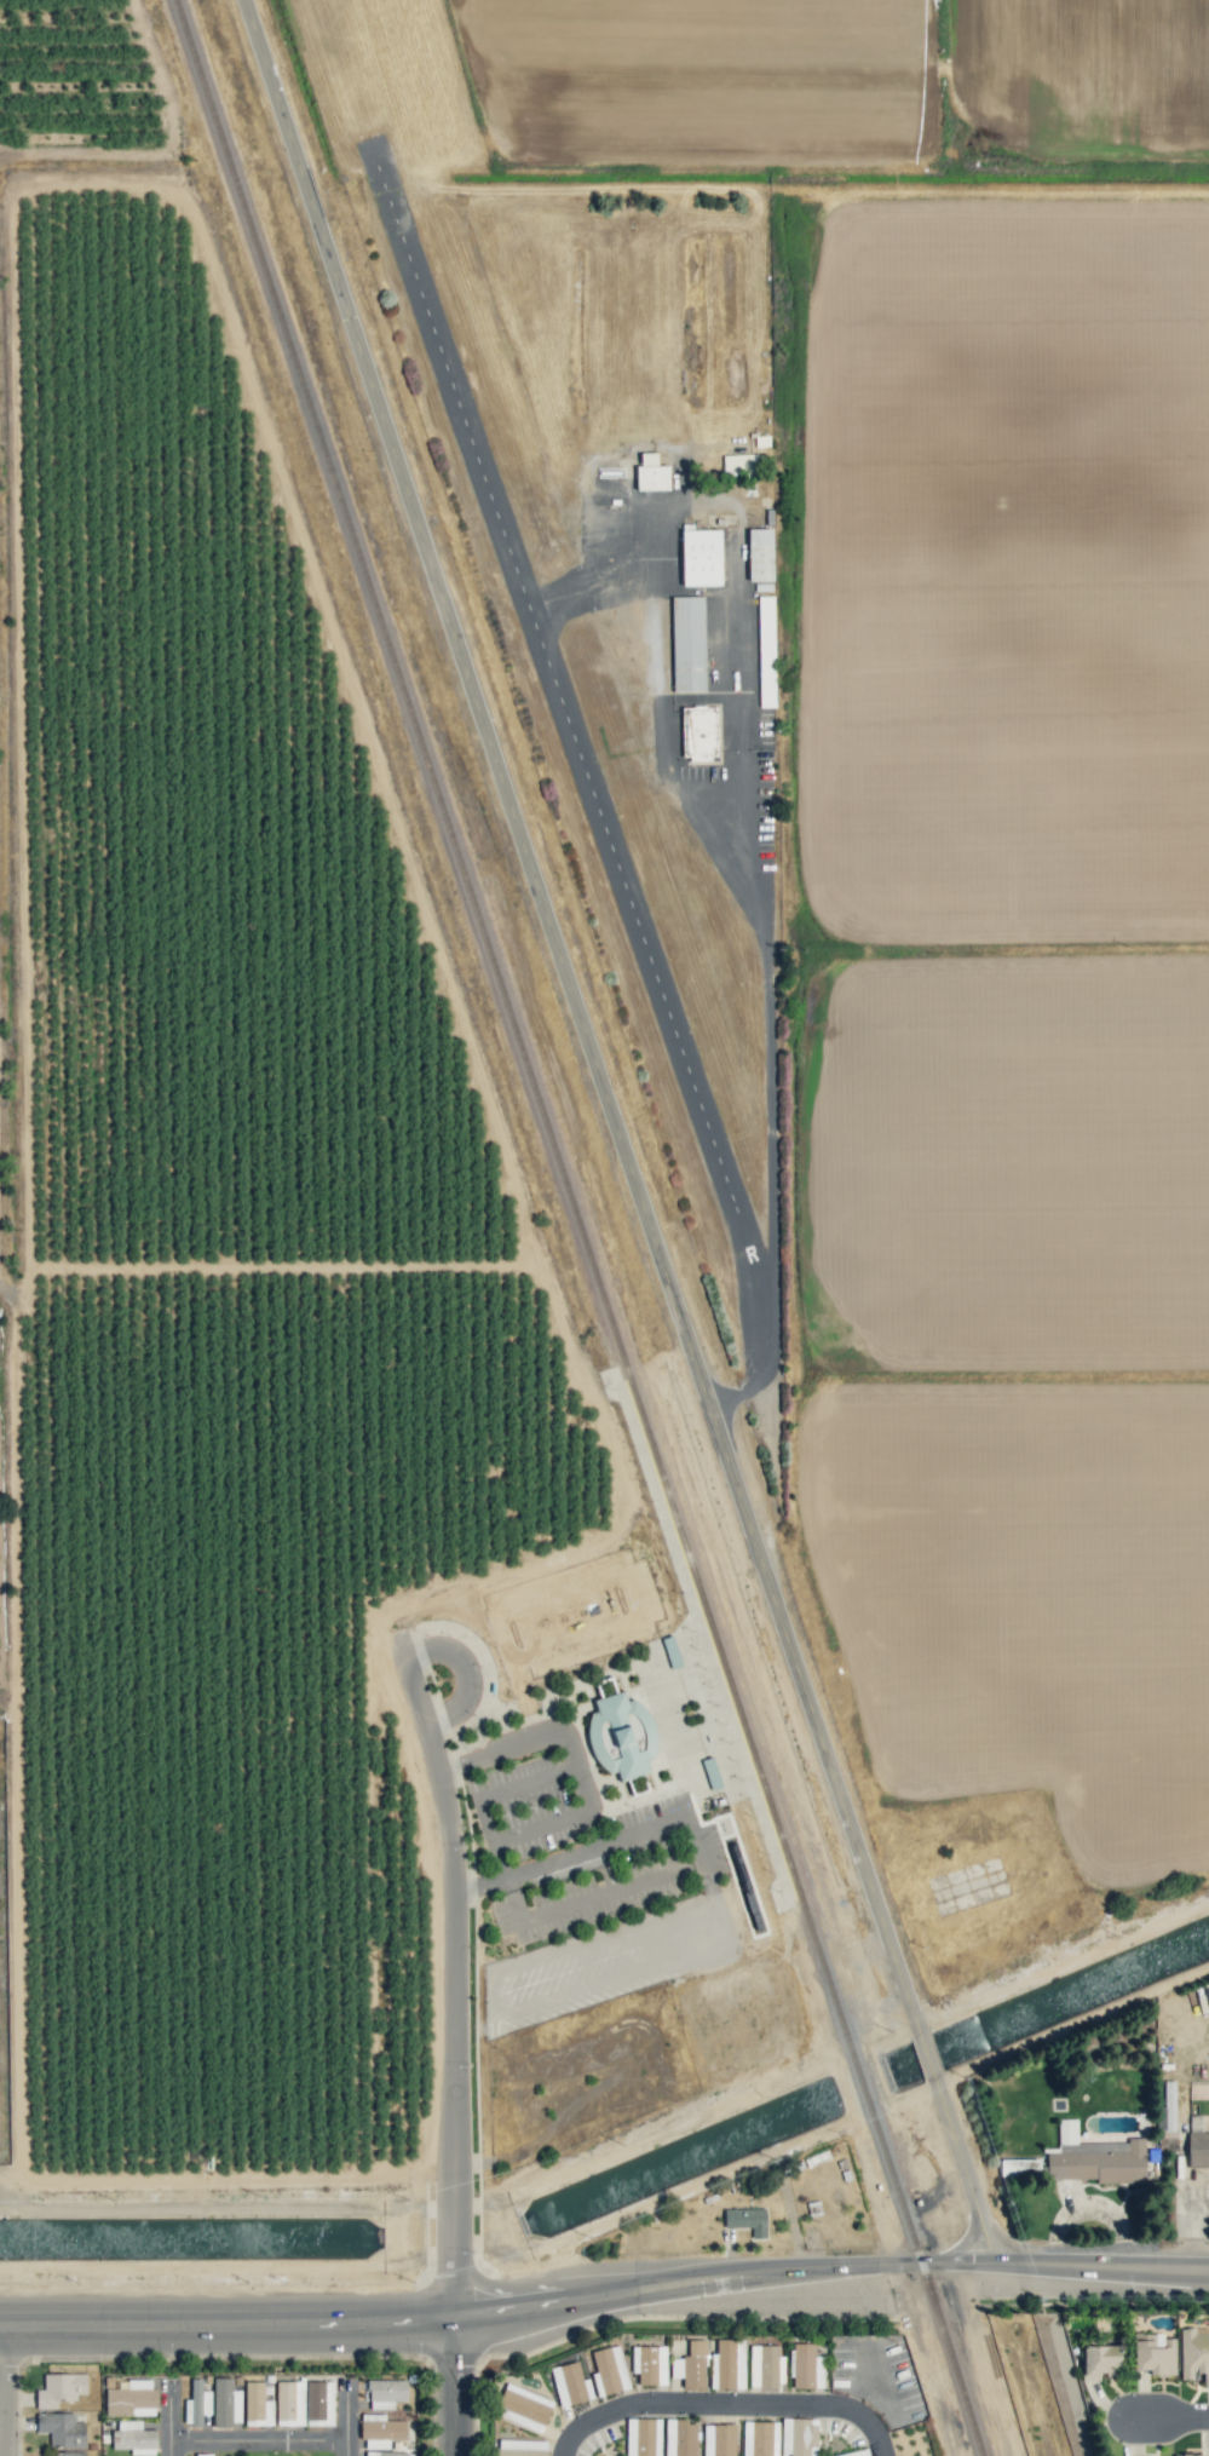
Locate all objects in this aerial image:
building: (739, 465)
building: (650, 473)
road: (668, 505)
building: (759, 554)
building: (701, 557)
road: (597, 583)
building: (687, 643)
road: (743, 648)
building: (765, 651)
building: (698, 731)
road: (626, 1132)
railway: (580, 1227)
crop: (215, 1239)
railway: (604, 1392)
road: (402, 1645)
road: (467, 1670)
building: (621, 1736)
road: (540, 1738)
building: (710, 1772)
parking lot: (524, 1808)
road: (484, 1819)
road: (672, 1819)
road: (594, 1827)
road: (499, 1859)
road: (554, 1859)
parking lot: (622, 1871)
road: (480, 1883)
road: (586, 1899)
road: (454, 1985)
building: (1167, 2109)
building: (1197, 2149)
building: (1095, 2158)
building: (1019, 2165)
building: (747, 2220)
road: (1064, 2264)
road: (685, 2282)
road: (226, 2322)
building: (1193, 2353)
building: (1153, 2354)
building: (1100, 2358)
building: (649, 2364)
building: (727, 2364)
building: (691, 2365)
building: (764, 2365)
building: (807, 2366)
building: (609, 2370)
building: (1070, 2379)
building: (570, 2383)
road: (456, 2387)
building: (59, 2388)
road: (8, 2391)
building: (385, 2393)
building: (132, 2399)
building: (225, 2402)
building: (196, 2403)
building: (289, 2403)
building: (319, 2403)
building: (257, 2405)
building: (524, 2406)
road: (725, 2414)
road: (1163, 2418)
road: (174, 2420)
road: (353, 2422)
building: (61, 2429)
building: (380, 2431)
building: (133, 2437)
building: (643, 2437)
building: (799, 2437)
building: (680, 2438)
building: (760, 2438)
building: (719, 2439)
road: (264, 2445)
building: (520, 2448)
building: (854, 2452)
building: (68, 2454)
building: (384, 2454)
building: (1186, 2455)

